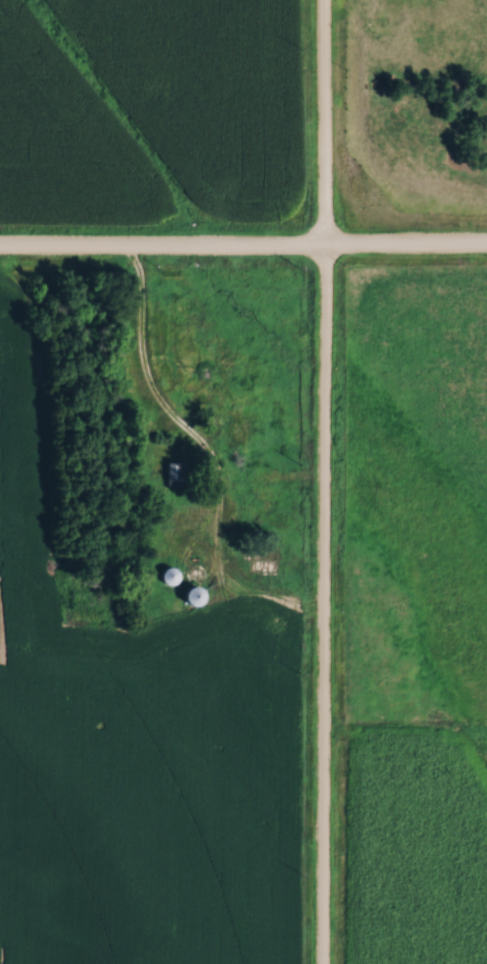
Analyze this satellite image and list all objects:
road: (243, 253)
road: (210, 458)
building: (170, 474)
road: (324, 482)
building: (167, 576)
building: (188, 593)

